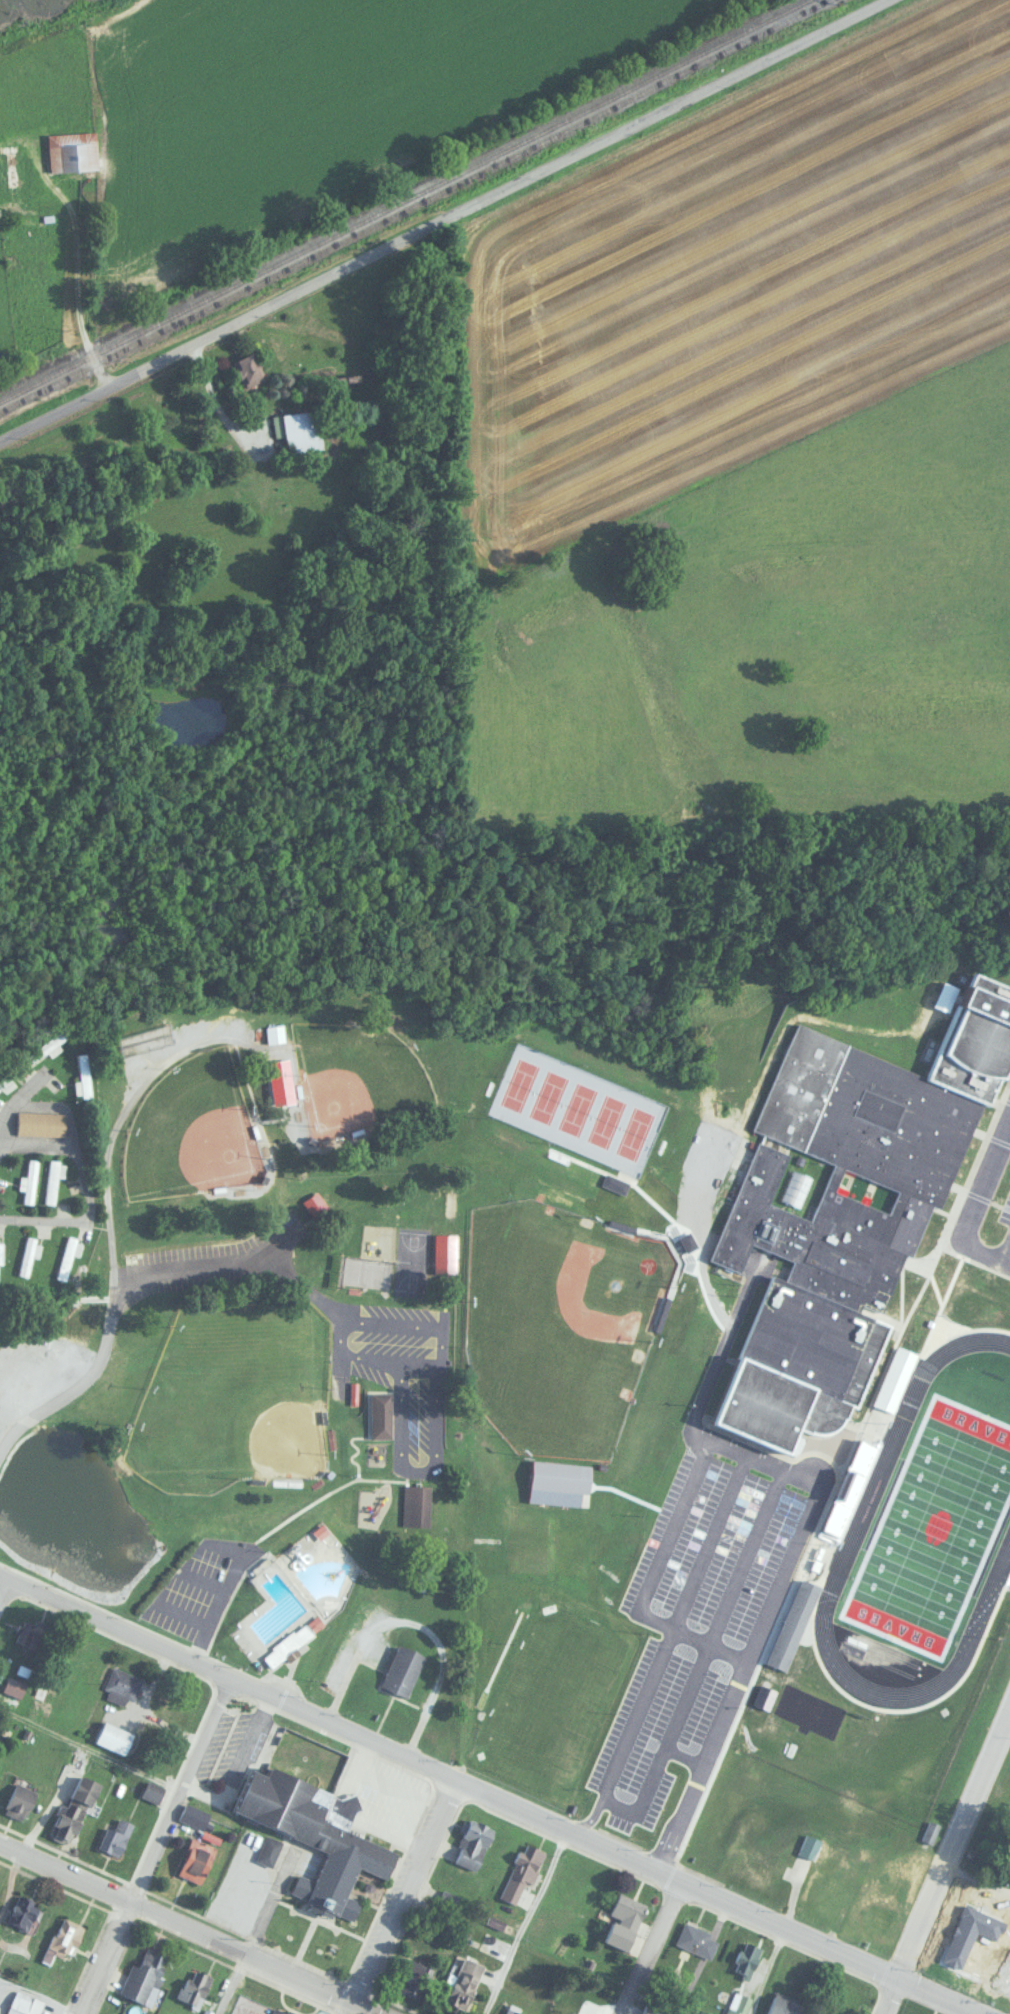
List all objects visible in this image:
building: (73, 151)
railway: (403, 199)
railway: (414, 208)
road: (444, 220)
road: (79, 280)
building: (249, 370)
road: (216, 411)
building: (298, 431)
building: (273, 1032)
building: (47, 1044)
park: (352, 1075)
building: (82, 1076)
building: (5, 1079)
park: (518, 1083)
building: (281, 1085)
park: (547, 1095)
park: (576, 1107)
park: (604, 1120)
building: (39, 1122)
park: (192, 1130)
park: (633, 1132)
building: (52, 1178)
building: (28, 1180)
road: (87, 1189)
parking lot: (985, 1207)
building: (849, 1211)
road: (970, 1211)
road: (106, 1236)
building: (1, 1250)
road: (1004, 1250)
building: (28, 1254)
building: (65, 1255)
building: (445, 1255)
park: (410, 1260)
road: (195, 1272)
park: (556, 1325)
building: (895, 1378)
park: (235, 1394)
building: (381, 1415)
track: (881, 1461)
building: (562, 1476)
building: (847, 1485)
building: (416, 1506)
road: (802, 1527)
park: (933, 1527)
parking lot: (199, 1587)
road: (4, 1588)
building: (275, 1602)
building: (793, 1626)
building: (29, 1634)
road: (197, 1650)
building: (403, 1670)
building: (68, 1674)
building: (121, 1686)
building: (764, 1696)
building: (114, 1737)
road: (87, 1748)
road: (480, 1795)
building: (20, 1801)
building: (77, 1807)
building: (930, 1830)
building: (317, 1834)
building: (115, 1835)
building: (474, 1844)
building: (809, 1845)
road: (151, 1846)
building: (269, 1850)
building: (770, 1850)
building: (199, 1855)
road: (946, 1858)
building: (858, 1867)
building: (517, 1879)
building: (241, 1889)
building: (836, 1889)
road: (400, 1898)
building: (448, 1898)
building: (24, 1912)
building: (882, 1916)
building: (625, 1920)
road: (523, 1924)
road: (186, 1929)
building: (64, 1938)
building: (696, 1940)
building: (959, 1946)
road: (652, 1950)
building: (748, 1957)
road: (767, 1974)
building: (144, 1976)
building: (416, 1976)
building: (535, 1977)
building: (465, 1982)
road: (229, 1985)
building: (194, 1986)
road: (40, 1995)
building: (736, 2003)
building: (24, 2004)
building: (784, 2005)
building: (512, 2010)
building: (653, 2010)
building: (277, 2011)
building: (552, 2013)

